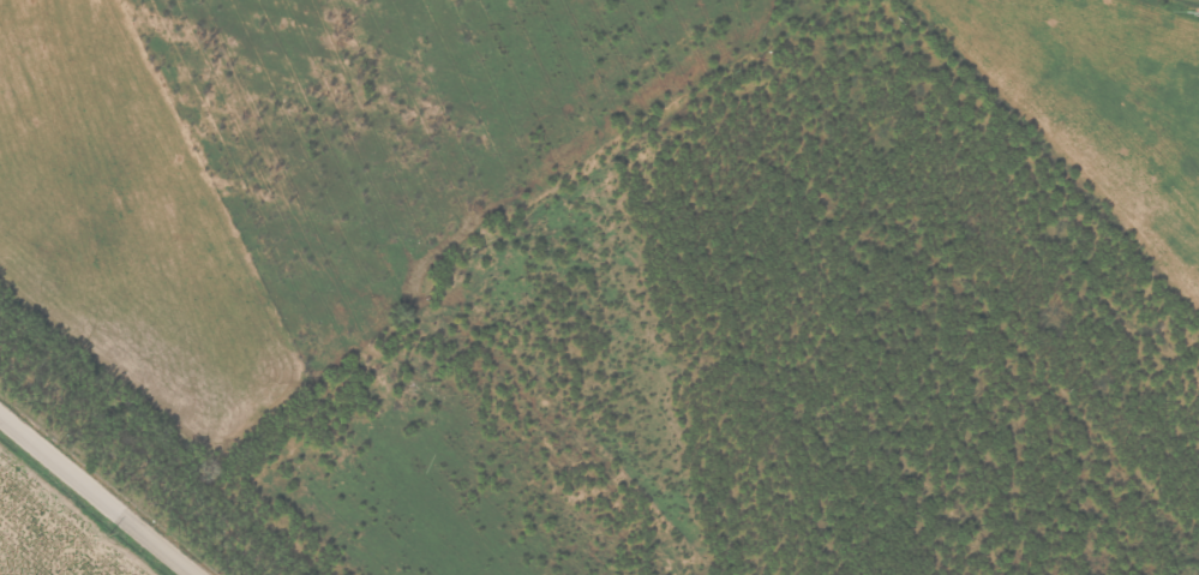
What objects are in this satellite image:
railway: (134, 463)
road: (90, 501)

